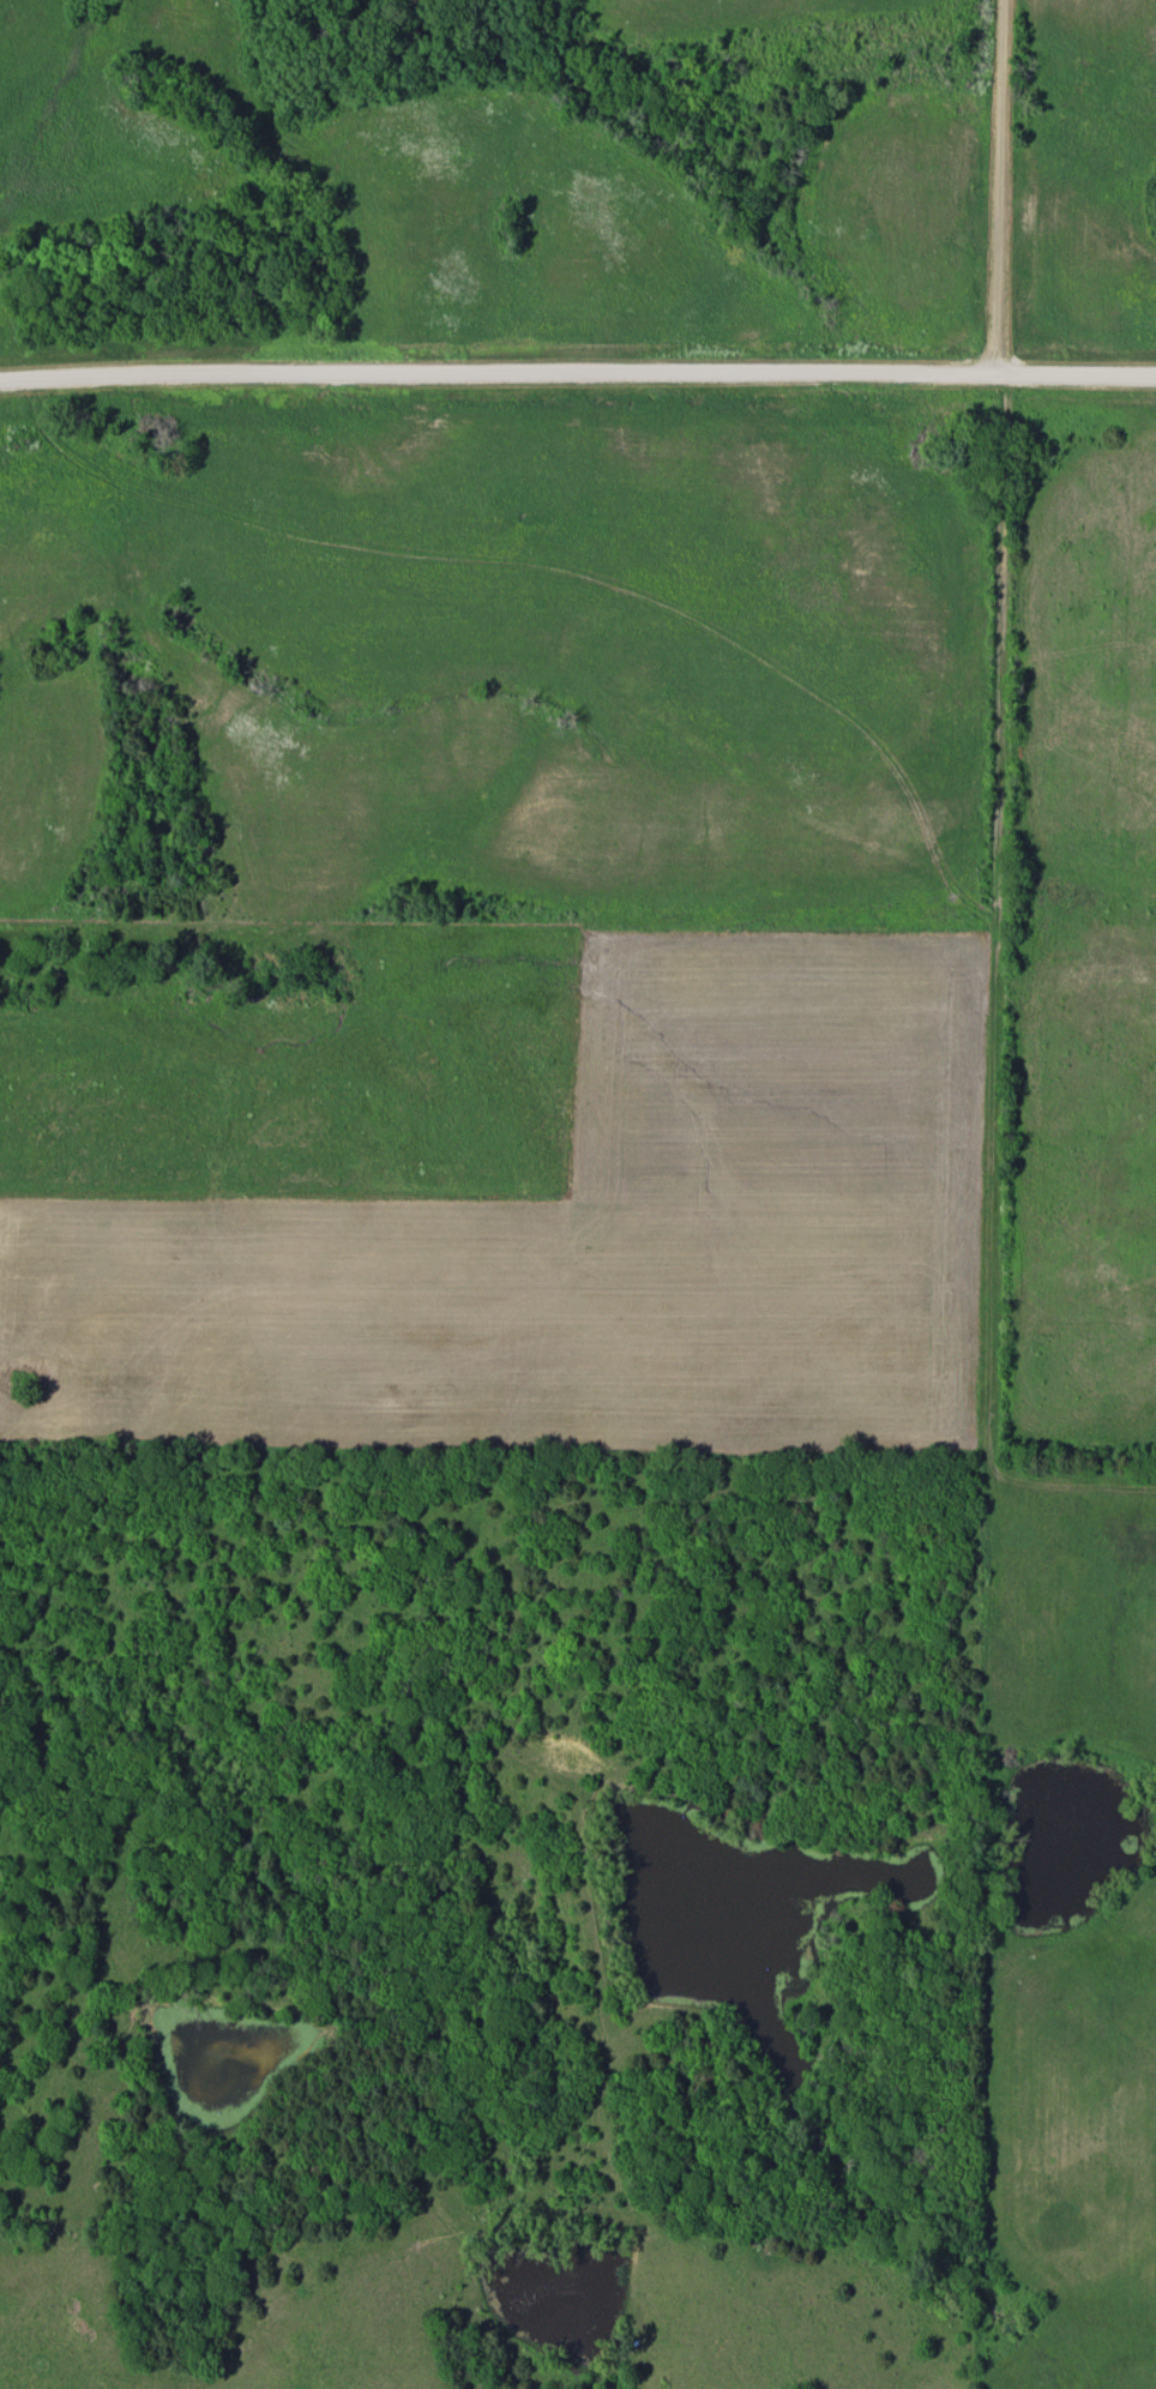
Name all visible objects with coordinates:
road: (1004, 187)
road: (577, 372)

